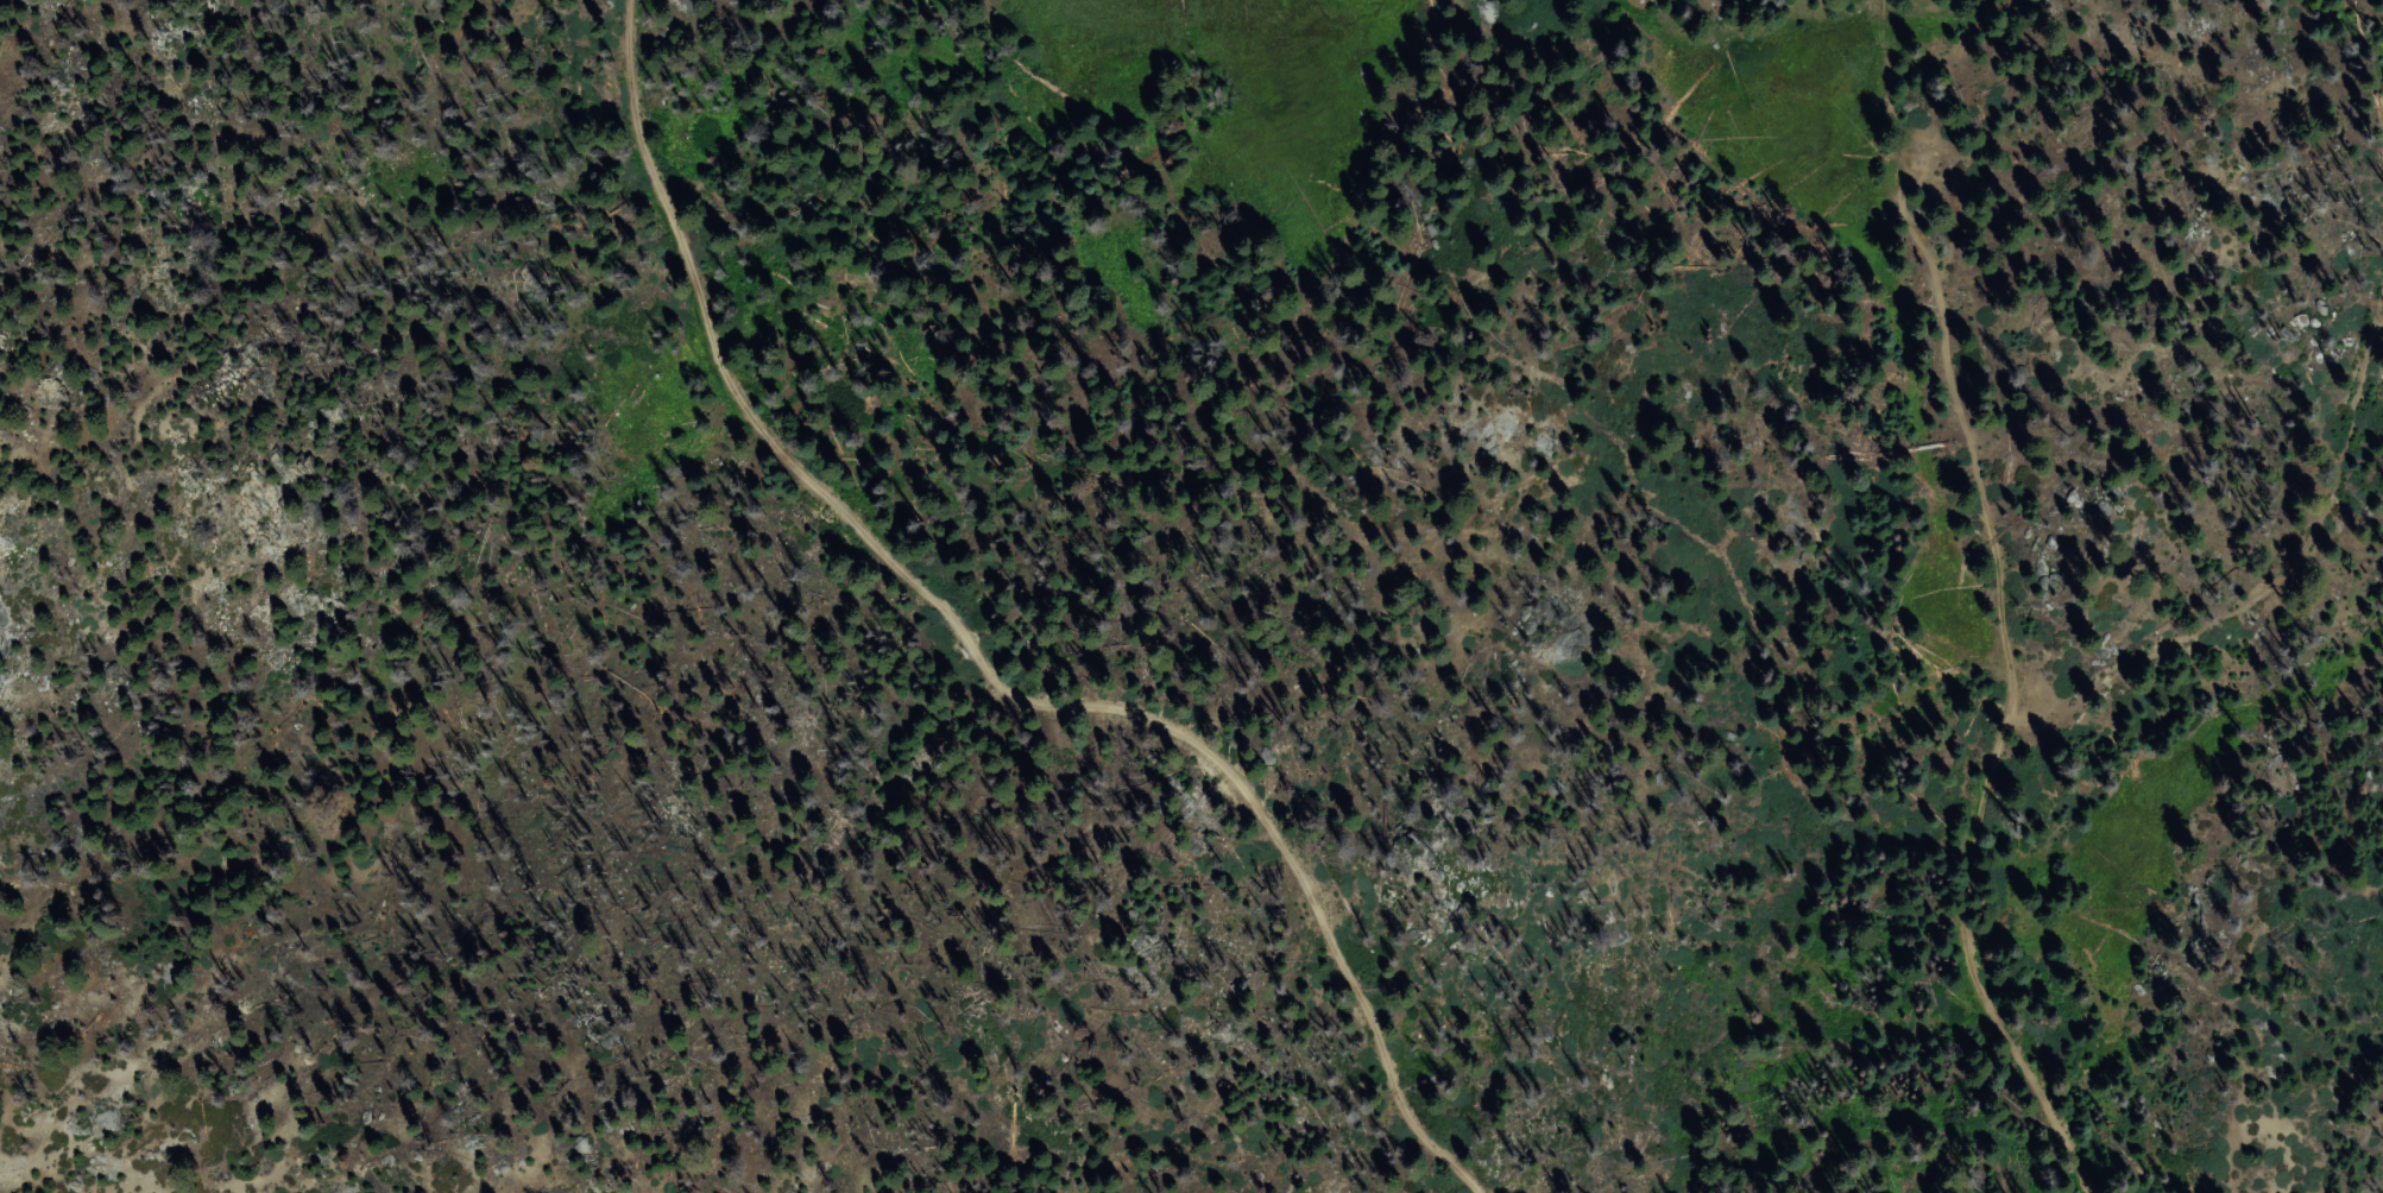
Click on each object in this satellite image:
road: (976, 658)

